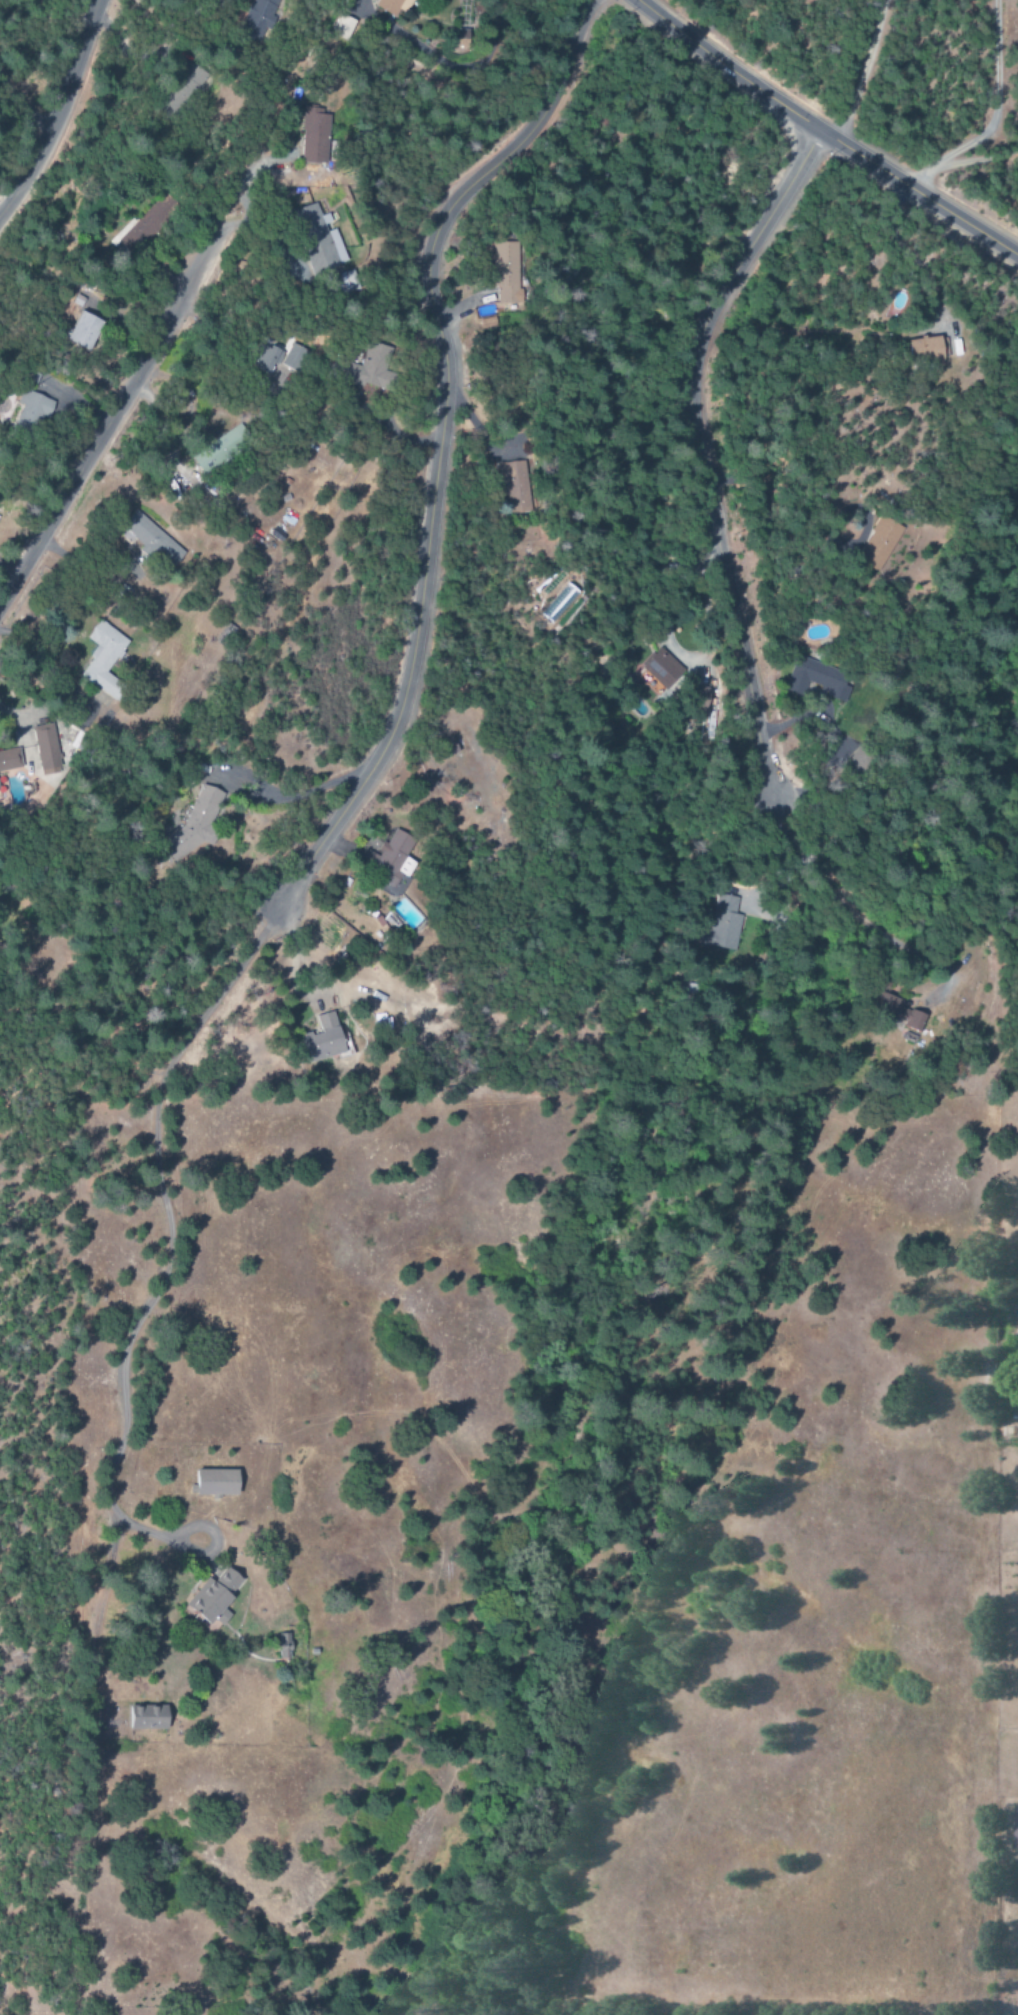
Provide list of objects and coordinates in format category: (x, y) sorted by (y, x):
building: (260, 20)
building: (344, 28)
road: (445, 62)
building: (195, 77)
road: (22, 102)
road: (56, 110)
building: (314, 121)
road: (823, 133)
road: (6, 196)
building: (152, 219)
building: (319, 238)
building: (350, 281)
building: (503, 282)
building: (84, 330)
building: (927, 349)
building: (294, 356)
building: (267, 358)
building: (366, 366)
building: (30, 411)
road: (110, 421)
road: (439, 442)
building: (221, 448)
road: (694, 452)
building: (515, 486)
building: (153, 539)
building: (880, 543)
building: (104, 658)
building: (659, 672)
building: (699, 698)
building: (46, 747)
building: (446, 749)
building: (10, 760)
building: (197, 821)
building: (387, 857)
building: (724, 924)
building: (899, 1011)
building: (324, 1039)
road: (167, 1244)
building: (217, 1483)
building: (217, 1597)
building: (283, 1647)
building: (149, 1719)

